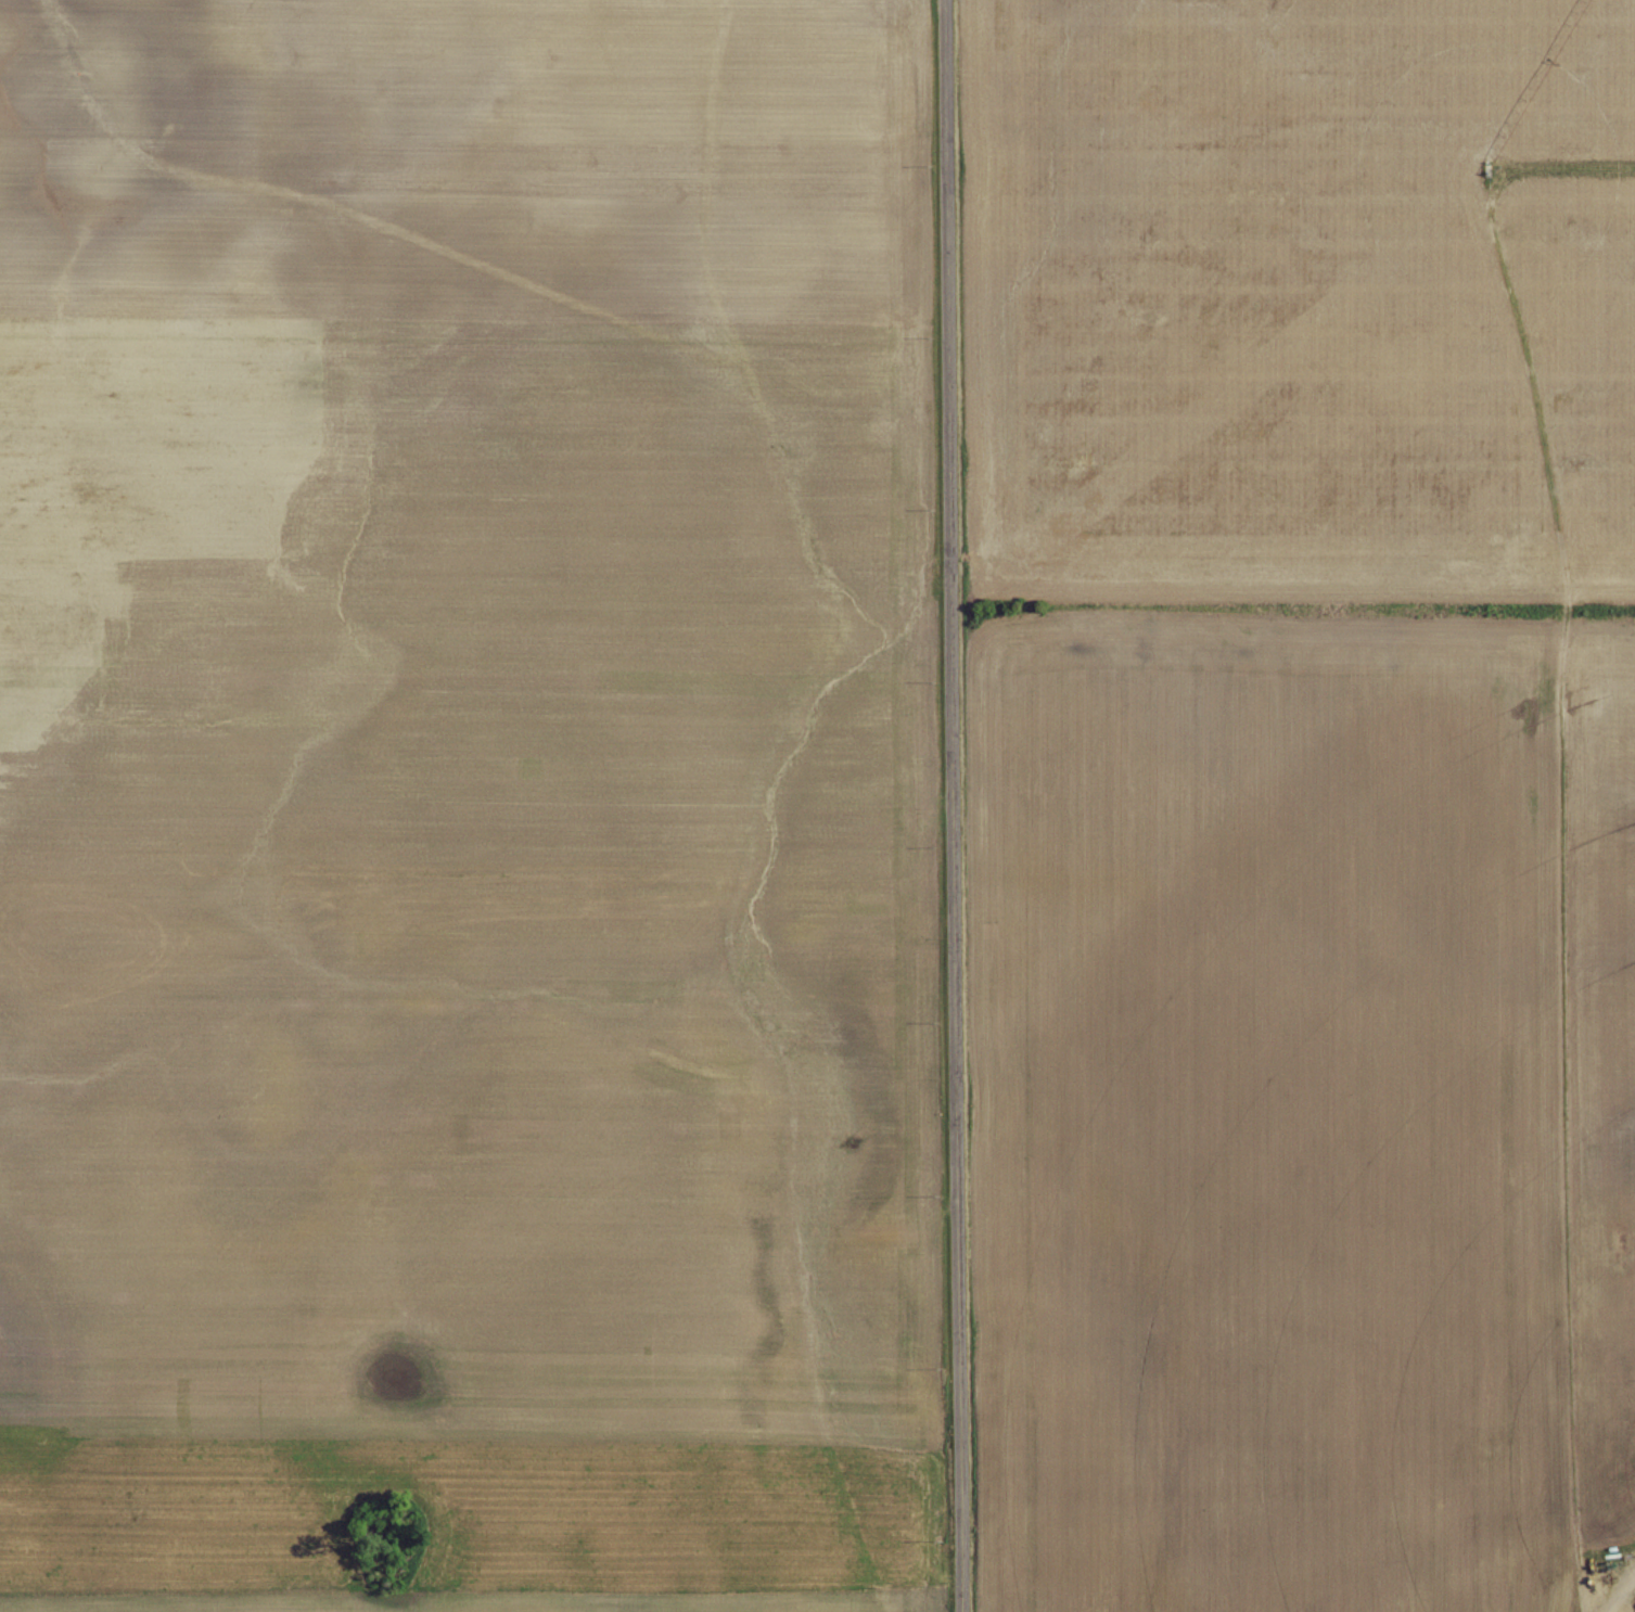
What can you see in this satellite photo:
crop: (1308, 297)
crop: (460, 714)
road: (954, 806)
crop: (1308, 1099)
crop: (525, 1604)

